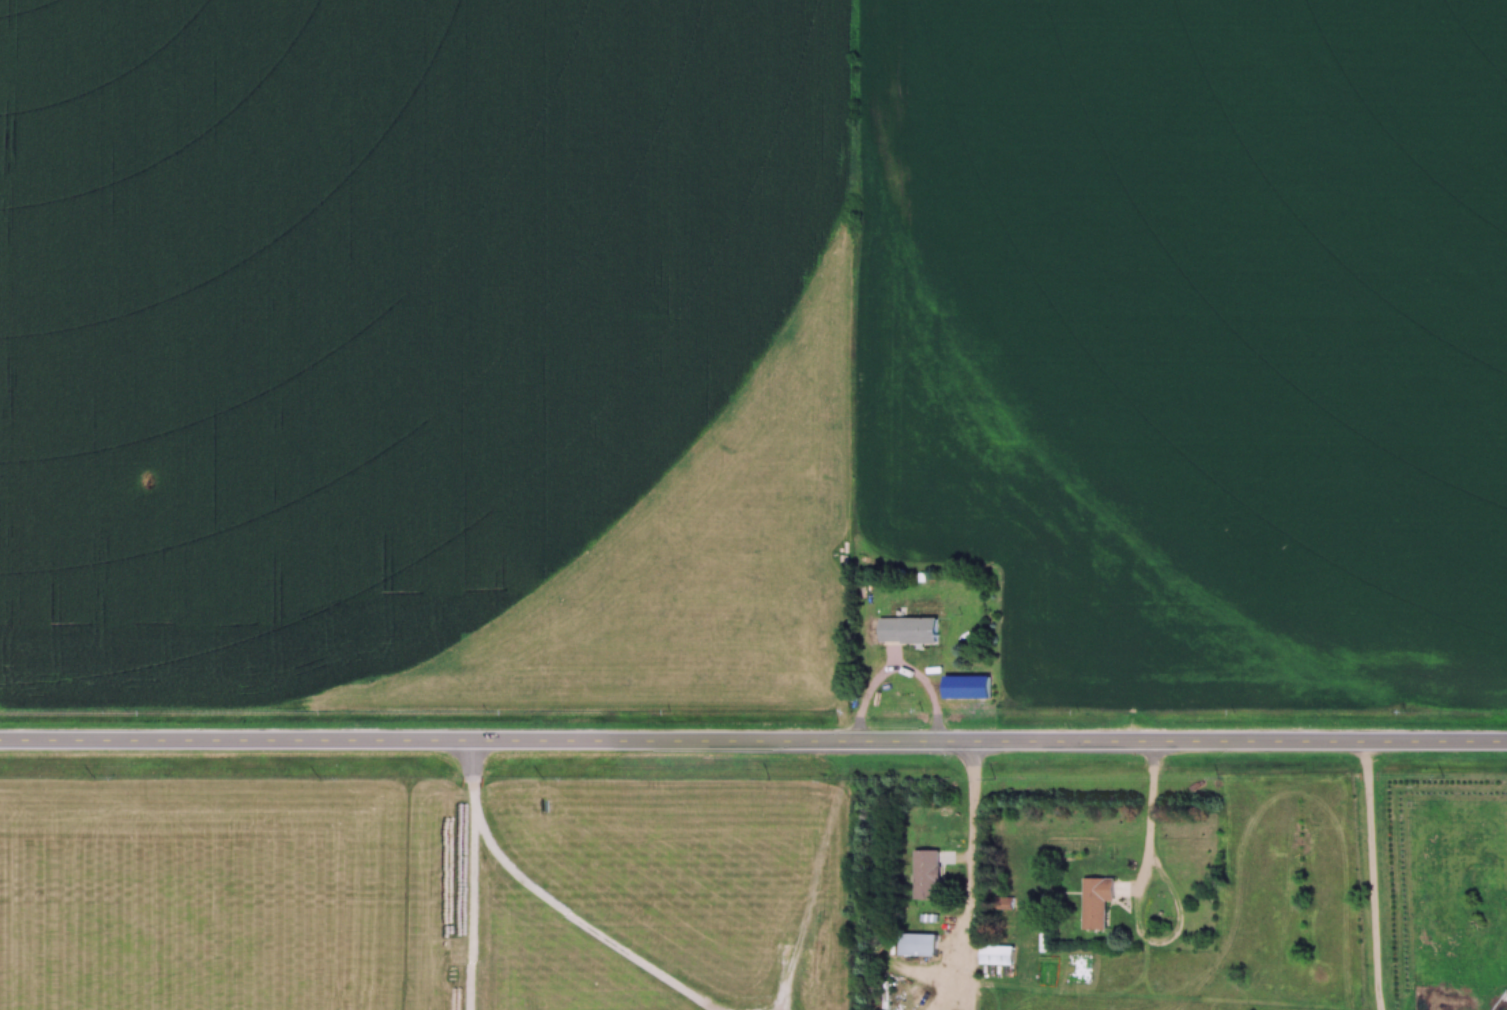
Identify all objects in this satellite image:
building: (909, 630)
road: (901, 670)
road: (753, 738)
road: (1152, 816)
road: (472, 874)
road: (1372, 874)
building: (927, 875)
road: (977, 875)
building: (1096, 902)
building: (918, 946)
building: (998, 955)

